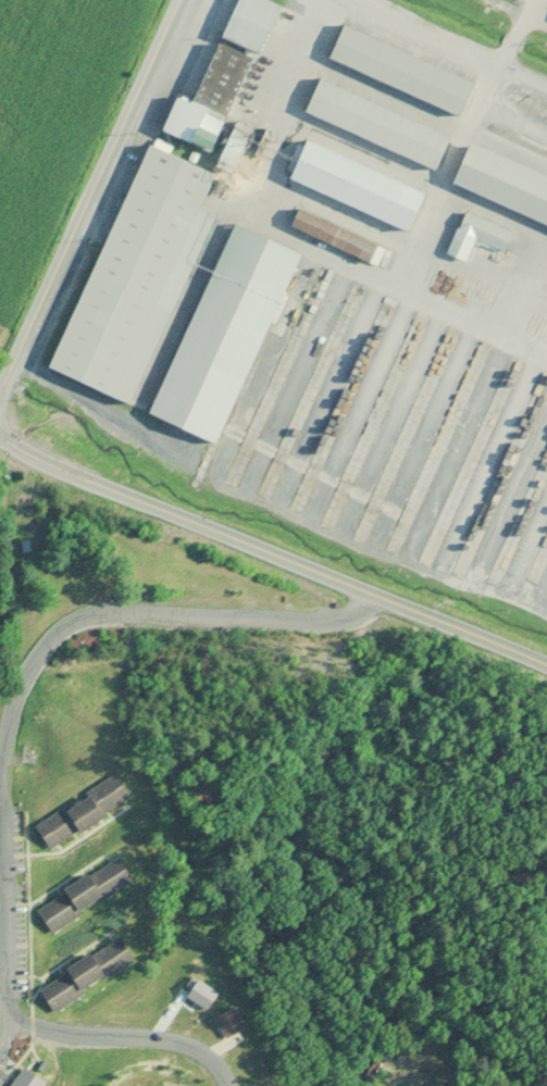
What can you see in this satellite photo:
building: (248, 28)
road: (444, 46)
building: (398, 71)
building: (208, 99)
building: (374, 124)
railway: (520, 141)
building: (231, 148)
building: (501, 185)
building: (352, 186)
road: (90, 202)
building: (480, 230)
building: (335, 238)
building: (134, 275)
building: (222, 335)
road: (270, 548)
road: (27, 675)
building: (80, 811)
building: (83, 894)
building: (85, 973)
building: (227, 1021)
road: (132, 1044)
building: (25, 1078)

